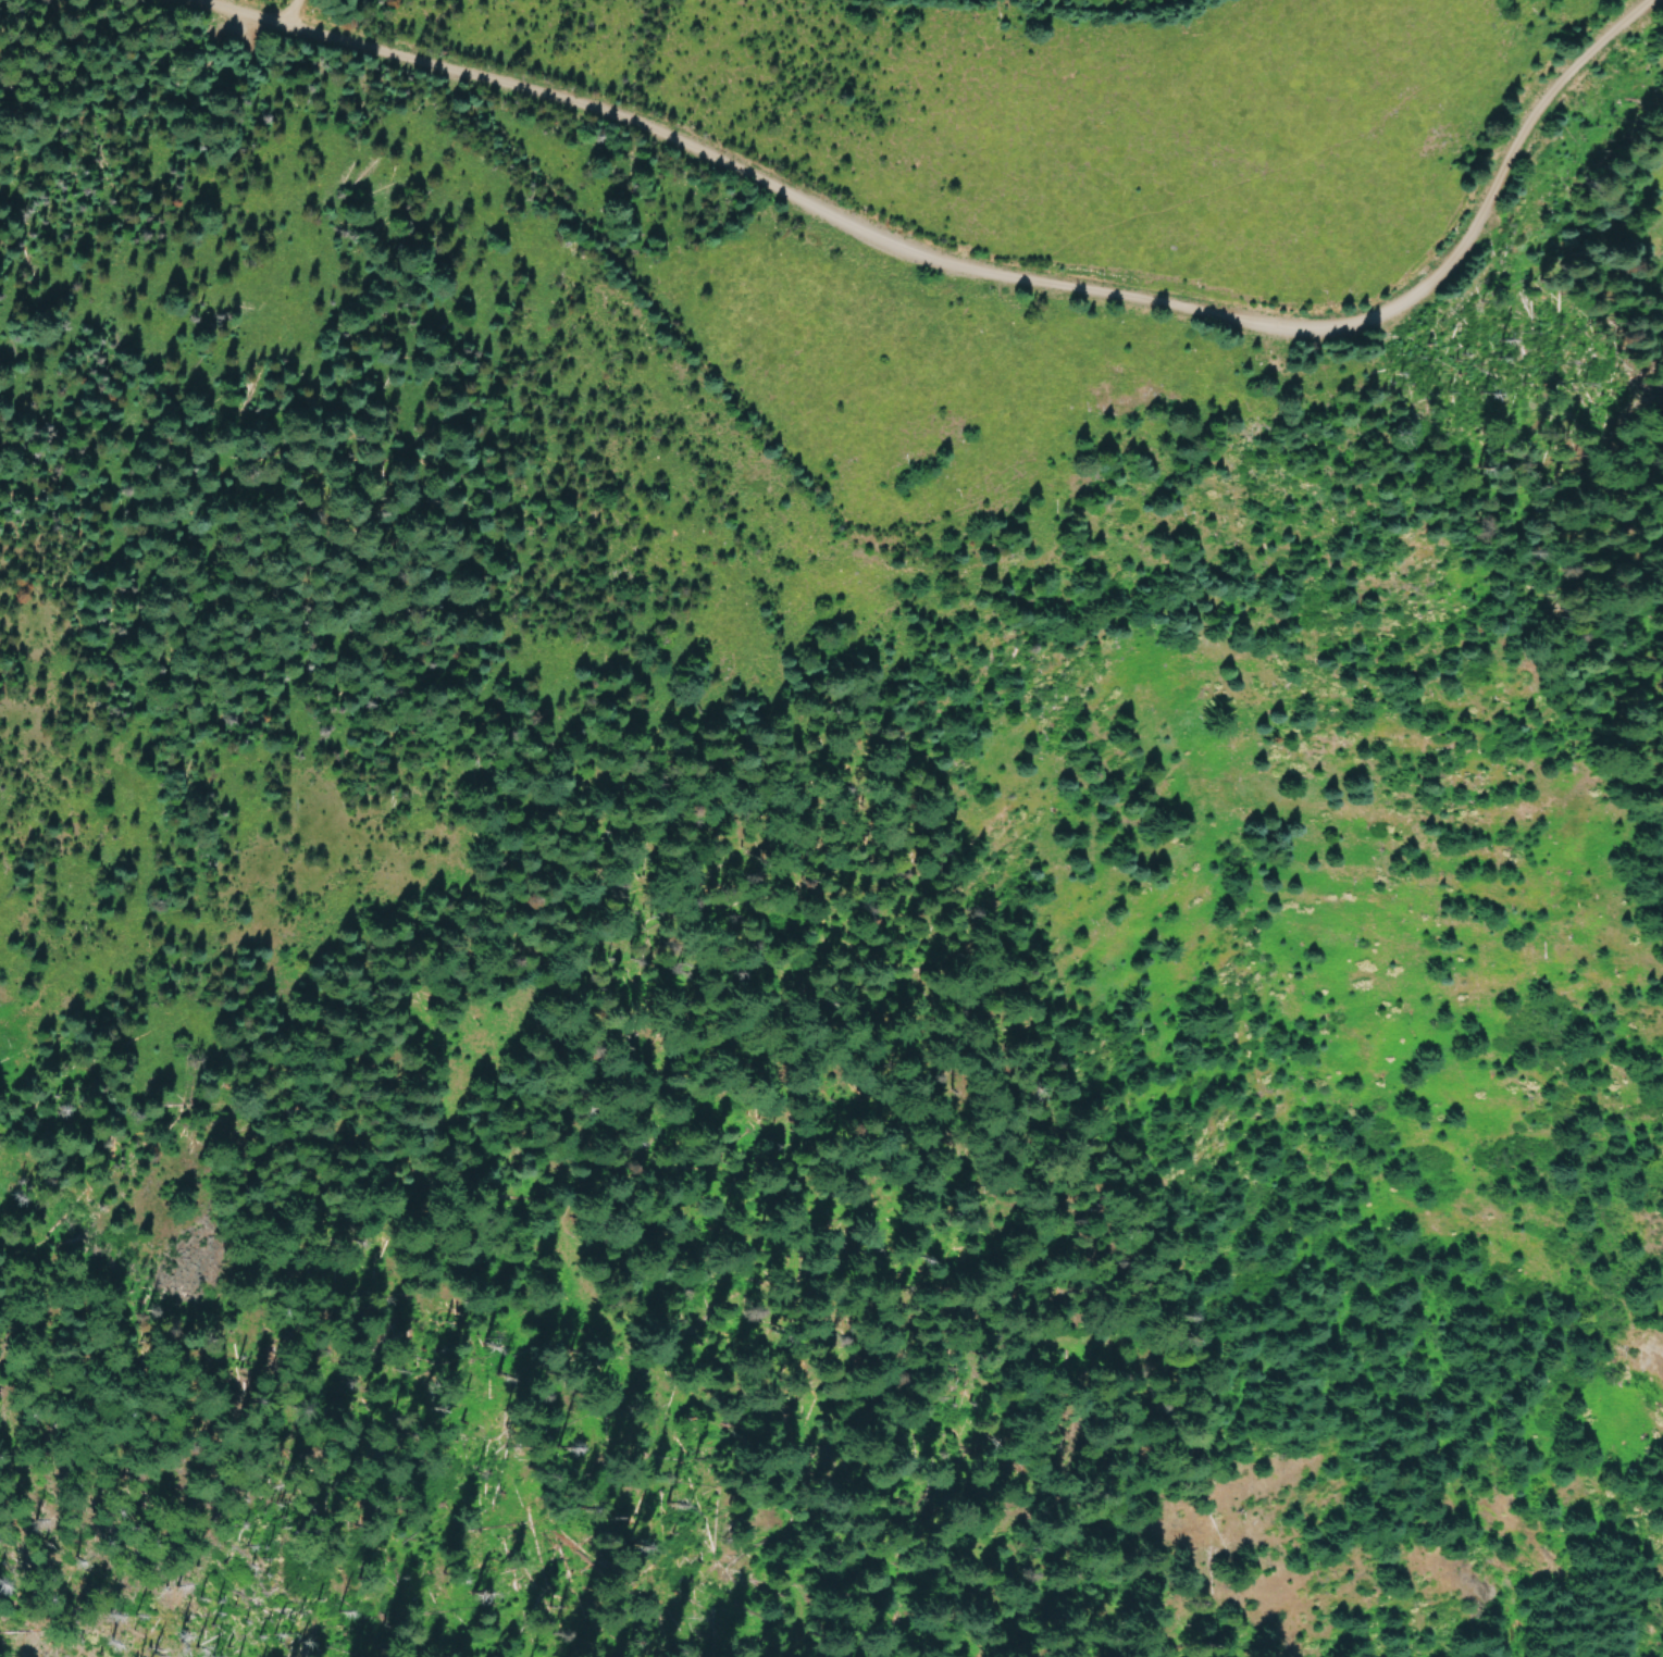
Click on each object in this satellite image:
road: (285, 13)
road: (971, 276)

